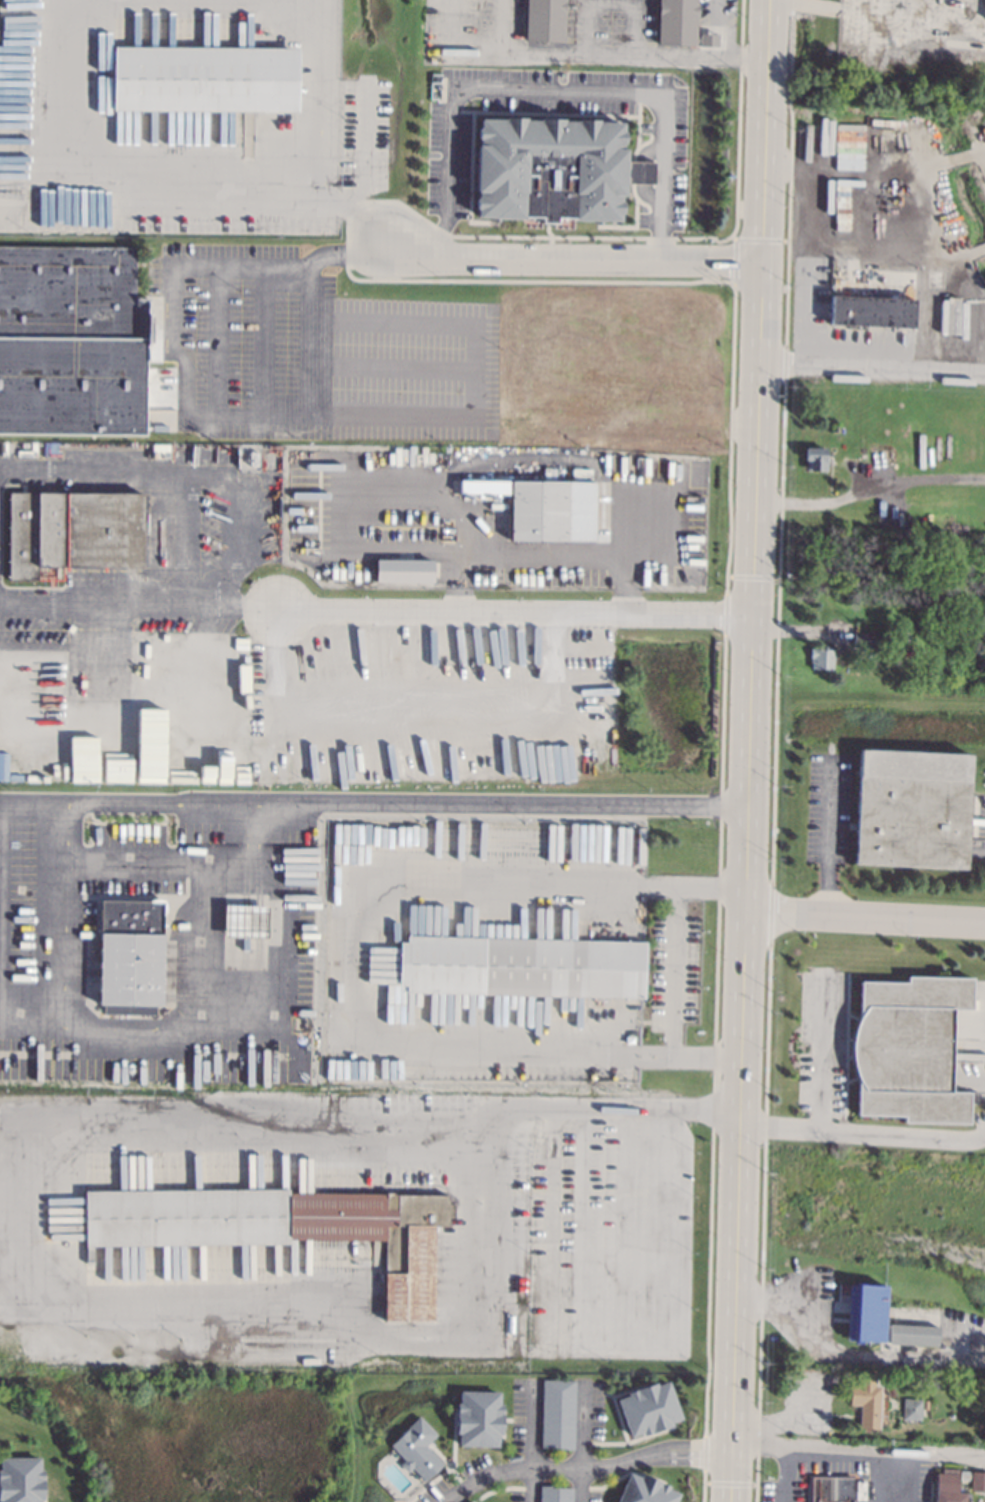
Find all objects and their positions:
road: (611, 0)
road: (780, 2)
road: (803, 5)
road: (871, 12)
building: (544, 20)
building: (679, 23)
road: (721, 28)
parking lot: (572, 34)
road: (453, 49)
road: (318, 51)
road: (607, 54)
building: (981, 68)
building: (435, 77)
building: (204, 78)
road: (551, 89)
road: (762, 130)
road: (319, 148)
parking lot: (452, 165)
building: (553, 168)
road: (364, 174)
road: (98, 193)
road: (337, 205)
building: (848, 210)
road: (339, 248)
road: (808, 249)
road: (571, 259)
building: (950, 272)
building: (935, 278)
building: (955, 309)
building: (870, 311)
building: (72, 341)
parking lot: (317, 352)
road: (870, 369)
road: (219, 398)
building: (834, 428)
building: (51, 450)
building: (169, 451)
building: (877, 457)
building: (252, 458)
building: (815, 458)
road: (148, 472)
road: (867, 490)
building: (543, 506)
building: (72, 531)
building: (403, 570)
road: (227, 599)
road: (93, 604)
road: (511, 614)
building: (891, 633)
building: (869, 638)
building: (820, 659)
road: (89, 798)
road: (212, 800)
road: (497, 804)
building: (912, 809)
road: (743, 819)
road: (250, 835)
road: (829, 839)
road: (134, 869)
road: (64, 911)
road: (862, 917)
building: (130, 955)
building: (521, 966)
road: (672, 971)
road: (93, 1026)
building: (629, 1039)
building: (908, 1048)
road: (821, 1057)
road: (861, 1136)
road: (10, 1176)
building: (284, 1228)
building: (865, 1313)
building: (913, 1333)
road: (846, 1352)
building: (866, 1399)
building: (926, 1404)
building: (649, 1408)
building: (912, 1408)
building: (557, 1413)
building: (478, 1418)
road: (786, 1424)
road: (724, 1439)
building: (417, 1448)
road: (838, 1449)
road: (943, 1454)
building: (513, 1456)
road: (581, 1467)
road: (787, 1475)
building: (20, 1480)
building: (977, 1480)
road: (531, 1484)
road: (580, 1484)
building: (947, 1486)
building: (830, 1488)
building: (646, 1490)
building: (555, 1493)
building: (475, 1501)

